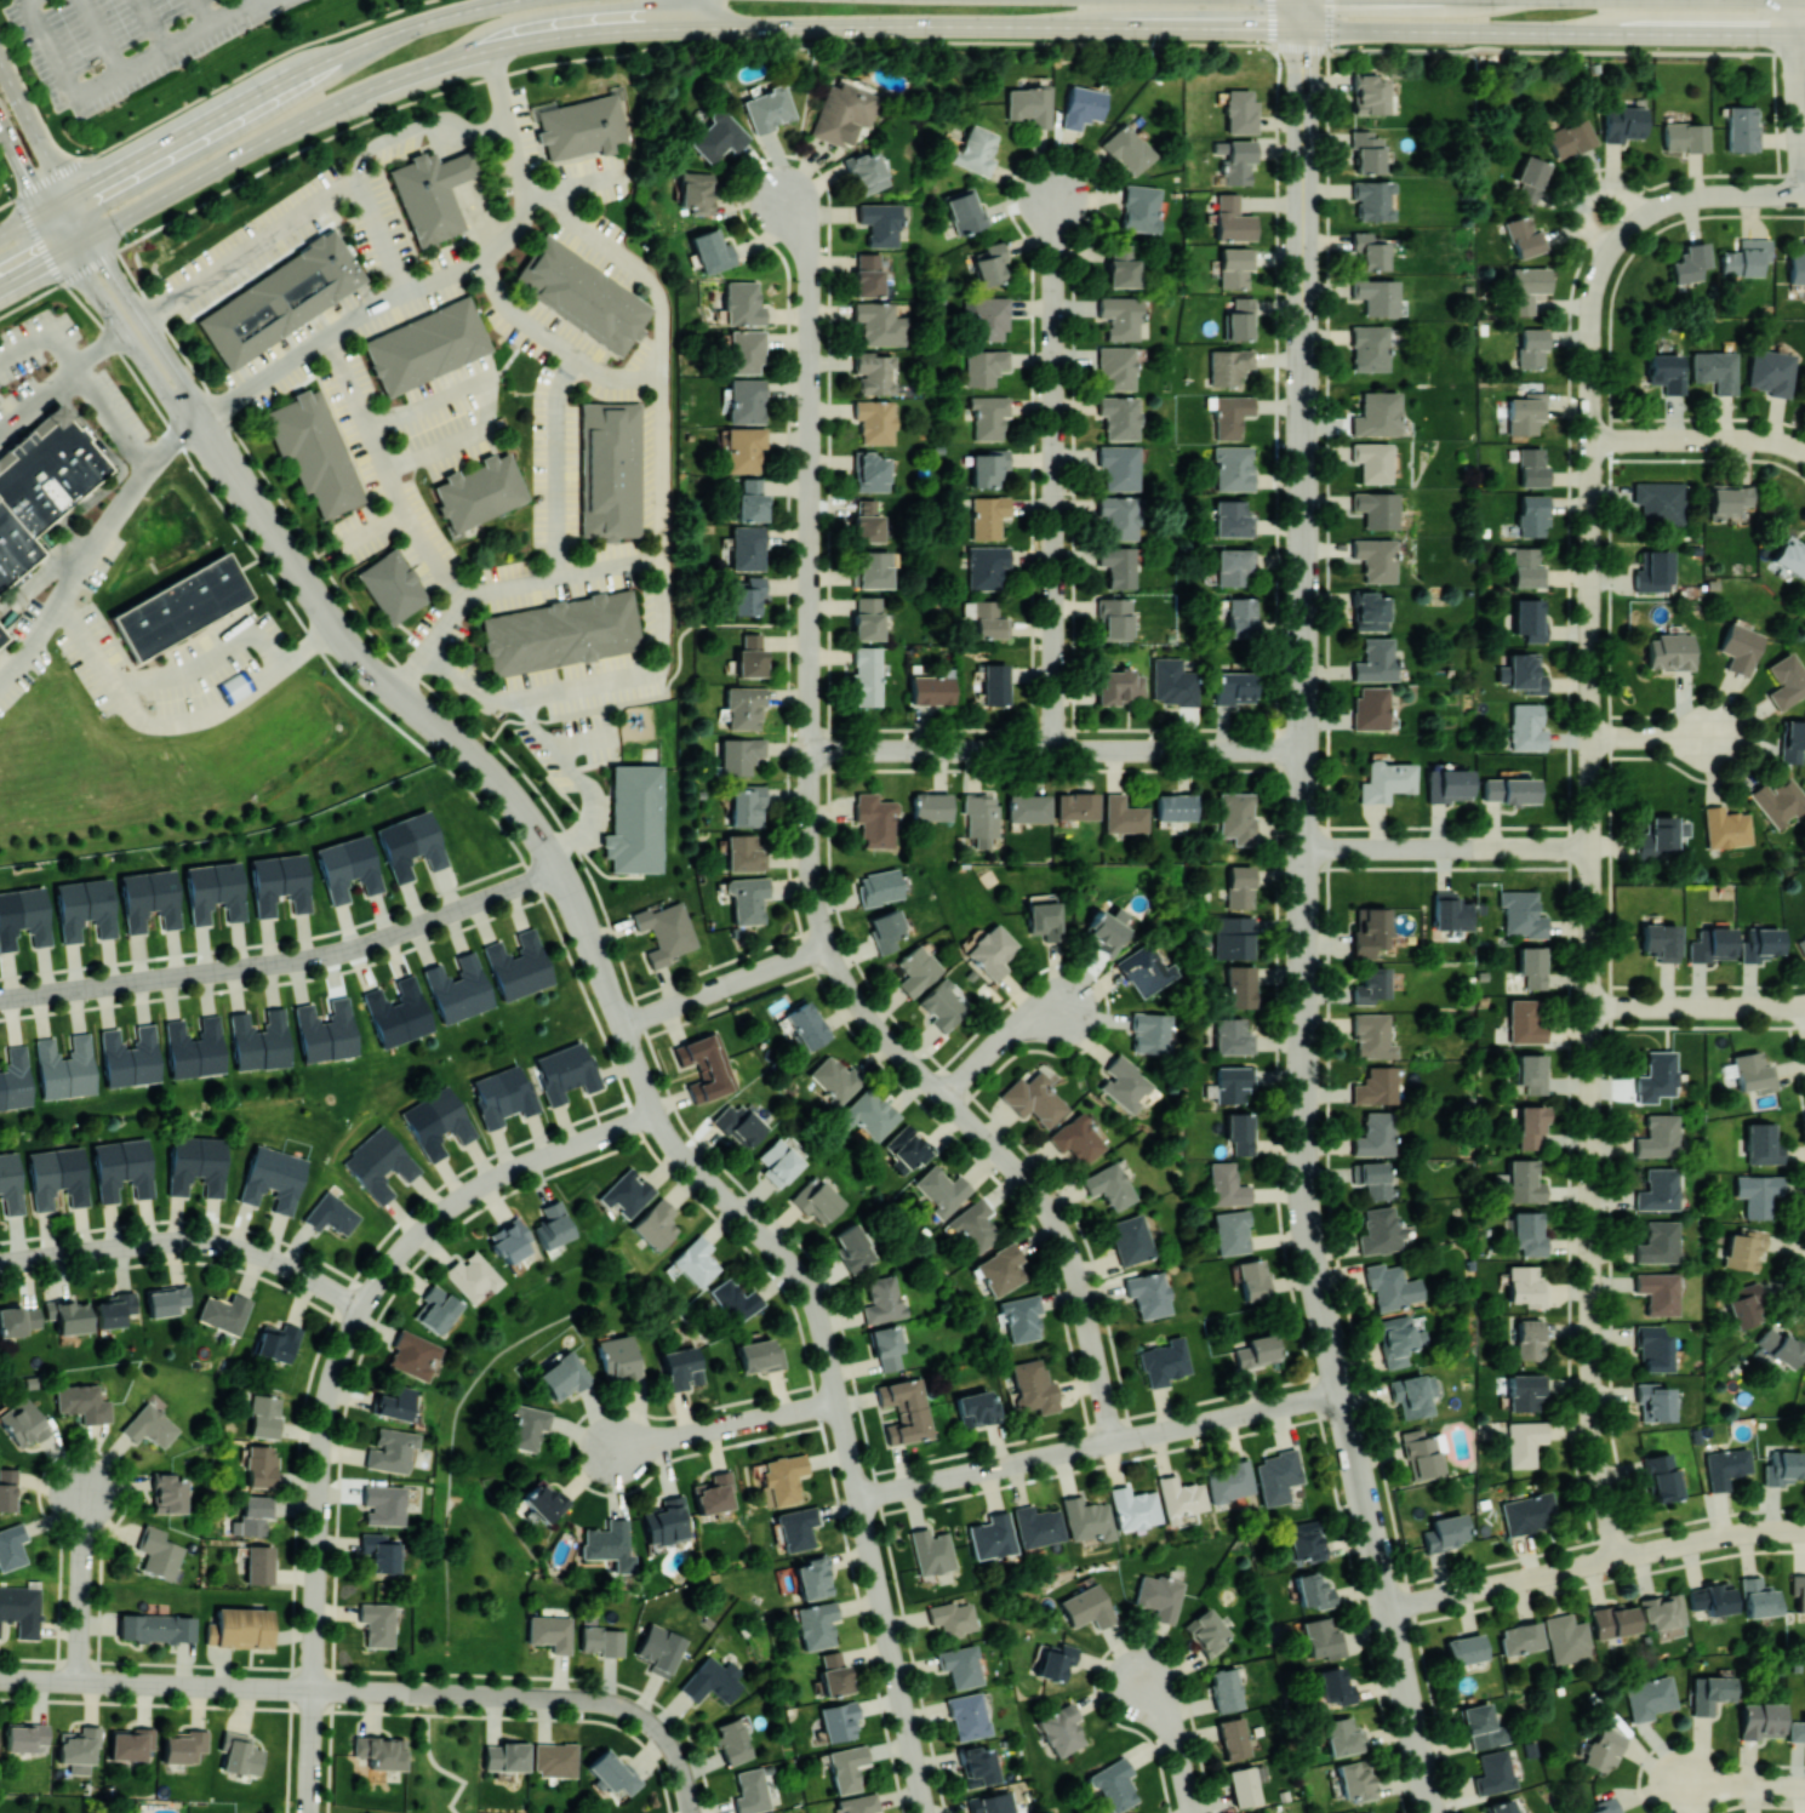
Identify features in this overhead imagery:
road: (206, 12)
road: (703, 12)
road: (675, 13)
road: (1297, 13)
road: (1306, 13)
road: (1270, 23)
road: (155, 24)
road: (1330, 24)
road: (867, 25)
traffic signals: (1302, 27)
road: (1799, 34)
road: (104, 36)
parking lot: (121, 40)
road: (873, 42)
road: (121, 74)
road: (207, 91)
building: (1369, 93)
road: (1794, 98)
road: (246, 99)
building: (1030, 104)
building: (1081, 105)
building: (769, 108)
building: (1239, 111)
building: (842, 113)
building: (1623, 122)
building: (587, 127)
building: (1741, 127)
building: (718, 135)
building: (1569, 136)
building: (1684, 136)
road: (44, 149)
building: (976, 149)
building: (1127, 149)
building: (1366, 150)
building: (1235, 160)
road: (23, 166)
building: (866, 172)
building: (1530, 177)
road: (464, 187)
building: (695, 191)
building: (436, 194)
road: (1588, 194)
road: (1803, 196)
traffic signals: (69, 198)
building: (1372, 199)
building: (1139, 207)
traffic signals: (45, 210)
building: (964, 210)
building: (1233, 218)
building: (879, 223)
traffic signals: (90, 236)
building: (1525, 236)
traffic signals: (67, 248)
road: (251, 250)
building: (1371, 250)
building: (712, 251)
building: (1746, 257)
building: (1690, 262)
building: (990, 264)
building: (1120, 265)
building: (1797, 265)
building: (1235, 267)
building: (868, 274)
building: (1526, 287)
building: (1376, 296)
building: (583, 297)
building: (279, 298)
building: (741, 303)
building: (987, 316)
building: (1119, 316)
road: (114, 319)
building: (1241, 319)
building: (878, 324)
road: (148, 325)
building: (429, 347)
building: (1531, 347)
building: (1370, 348)
building: (746, 351)
road: (297, 355)
road: (505, 361)
building: (1229, 365)
building: (984, 366)
building: (1115, 367)
building: (1715, 370)
building: (873, 372)
building: (1667, 372)
building: (1771, 372)
road: (85, 373)
road: (807, 382)
road: (62, 387)
building: (747, 400)
road: (481, 407)
building: (1525, 412)
building: (1230, 414)
building: (1377, 414)
building: (988, 416)
building: (1119, 416)
building: (874, 421)
road: (1698, 440)
building: (743, 448)
building: (316, 453)
building: (1373, 461)
road: (1592, 461)
road: (556, 465)
building: (1531, 465)
building: (988, 467)
building: (1119, 467)
building: (1234, 467)
building: (869, 471)
building: (612, 473)
road: (1055, 473)
road: (389, 476)
building: (39, 482)
building: (485, 497)
building: (749, 499)
building: (1729, 499)
building: (1660, 502)
building: (1377, 508)
building: (1531, 514)
building: (988, 515)
building: (1118, 516)
building: (1233, 519)
road: (657, 521)
building: (867, 521)
building: (748, 547)
building: (1790, 555)
building: (1375, 557)
building: (1118, 565)
building: (987, 566)
building: (1234, 566)
building: (1526, 567)
building: (873, 568)
building: (1653, 571)
building: (394, 591)
road: (316, 593)
road: (509, 595)
building: (746, 595)
road: (810, 596)
building: (177, 608)
building: (1369, 610)
building: (1243, 617)
building: (867, 618)
building: (987, 618)
building: (1114, 618)
building: (1530, 618)
building: (565, 635)
building: (1, 637)
building: (1740, 647)
building: (1669, 651)
building: (750, 656)
building: (1375, 659)
road: (206, 662)
building: (1523, 673)
building: (866, 675)
building: (1786, 680)
building: (1173, 681)
building: (995, 682)
road: (810, 686)
building: (1119, 686)
building: (1234, 686)
building: (931, 688)
road: (662, 697)
building: (743, 707)
building: (1370, 707)
road: (178, 722)
building: (1526, 726)
road: (1647, 736)
building: (1792, 739)
road: (583, 740)
road: (1057, 750)
building: (739, 754)
road: (579, 778)
building: (1386, 780)
building: (1447, 784)
building: (1508, 789)
road: (811, 790)
road: (1610, 799)
building: (1778, 801)
road: (515, 803)
building: (1078, 805)
building: (747, 806)
building: (930, 806)
building: (1175, 806)
building: (1028, 807)
building: (981, 814)
building: (1124, 814)
building: (635, 818)
building: (1241, 818)
building: (875, 819)
road: (1303, 820)
building: (1725, 827)
building: (1658, 836)
building: (410, 843)
road: (811, 846)
road: (1447, 848)
building: (743, 853)
building: (347, 867)
building: (279, 882)
building: (879, 886)
building: (1240, 887)
building: (213, 891)
road: (570, 892)
building: (149, 898)
building: (747, 898)
building: (84, 908)
building: (1450, 911)
building: (1521, 913)
road: (1592, 913)
building: (23, 916)
building: (1043, 920)
building: (885, 930)
building: (1106, 930)
building: (664, 931)
building: (1369, 932)
building: (1233, 937)
building: (1660, 940)
building: (1759, 943)
building: (1710, 944)
building: (1801, 944)
building: (992, 950)
road: (595, 959)
road: (298, 961)
building: (518, 965)
building: (1532, 966)
road: (773, 967)
building: (916, 970)
building: (1144, 970)
building: (1370, 984)
building: (1240, 985)
building: (458, 988)
road: (11, 997)
building: (943, 1005)
road: (669, 1007)
road: (1698, 1007)
building: (398, 1012)
road: (616, 1014)
building: (1525, 1020)
building: (806, 1024)
building: (325, 1030)
building: (1149, 1031)
building: (1234, 1035)
building: (1371, 1035)
road: (996, 1039)
building: (259, 1040)
building: (195, 1047)
building: (131, 1056)
building: (706, 1065)
building: (65, 1066)
road: (636, 1070)
building: (564, 1071)
building: (1532, 1071)
building: (1753, 1071)
building: (1655, 1076)
building: (15, 1079)
building: (834, 1079)
building: (1124, 1082)
building: (1233, 1082)
building: (1376, 1085)
building: (502, 1094)
building: (1034, 1098)
building: (868, 1114)
building: (436, 1121)
building: (739, 1123)
building: (1531, 1125)
building: (1239, 1132)
building: (1375, 1134)
building: (1657, 1136)
road: (986, 1138)
building: (1076, 1138)
building: (1763, 1142)
building: (906, 1148)
building: (779, 1161)
building: (196, 1163)
building: (379, 1165)
building: (121, 1167)
building: (57, 1176)
building: (273, 1177)
building: (1372, 1178)
building: (1521, 1180)
building: (10, 1183)
road: (489, 1183)
building: (1108, 1184)
building: (1226, 1184)
building: (941, 1189)
building: (1657, 1189)
road: (1593, 1190)
building: (626, 1193)
building: (1758, 1193)
building: (817, 1199)
building: (331, 1213)
building: (552, 1224)
building: (655, 1224)
building: (975, 1225)
building: (1381, 1230)
building: (1232, 1231)
building: (1529, 1231)
building: (1130, 1239)
building: (509, 1240)
building: (1657, 1242)
road: (136, 1246)
building: (853, 1247)
building: (1744, 1248)
building: (696, 1260)
building: (1001, 1269)
building: (472, 1276)
building: (1252, 1279)
road: (316, 1282)
building: (1392, 1286)
building: (1526, 1286)
building: (1657, 1292)
building: (1148, 1293)
building: (166, 1299)
road: (812, 1299)
building: (884, 1299)
building: (735, 1300)
building: (1746, 1305)
building: (115, 1309)
building: (435, 1309)
building: (223, 1311)
building: (68, 1315)
building: (1021, 1316)
building: (18, 1319)
building: (1395, 1339)
building: (1529, 1339)
building: (276, 1342)
building: (886, 1346)
building: (1780, 1346)
building: (1652, 1349)
building: (1255, 1350)
building: (412, 1354)
building: (617, 1355)
building: (759, 1355)
building: (1164, 1361)
building: (680, 1367)
building: (562, 1376)
building: (1034, 1385)
building: (1526, 1390)
building: (1412, 1394)
building: (1652, 1401)
building: (82, 1402)
building: (393, 1402)
building: (976, 1407)
building: (906, 1408)
building: (264, 1415)
building: (22, 1422)
building: (149, 1425)
building: (526, 1426)
road: (724, 1428)
road: (1179, 1428)
road: (322, 1440)
building: (1524, 1441)
road: (1595, 1447)
building: (390, 1449)
building: (1421, 1453)
road: (1009, 1464)
building: (261, 1465)
building: (1725, 1466)
building: (1782, 1466)
building: (1278, 1475)
building: (1661, 1476)
building: (783, 1477)
building: (1229, 1480)
road: (930, 1482)
building: (7, 1488)
building: (168, 1492)
building: (713, 1492)
building: (1179, 1497)
building: (543, 1499)
building: (383, 1504)
building: (1133, 1508)
road: (1607, 1509)
building: (1527, 1512)
building: (251, 1516)
road: (1718, 1516)
building: (1086, 1519)
building: (664, 1521)
building: (1036, 1526)
building: (796, 1527)
building: (1445, 1532)
building: (990, 1535)
building: (1304, 1542)
building: (607, 1544)
building: (12, 1545)
building: (931, 1550)
building: (379, 1551)
building: (159, 1552)
road: (1644, 1552)
road: (1507, 1560)
building: (258, 1563)
road: (875, 1573)
building: (812, 1577)
road: (81, 1583)
road: (316, 1584)
road: (1480, 1589)
building: (1313, 1590)
building: (1798, 1591)
building: (1159, 1596)
building: (1758, 1597)
road: (1430, 1598)
building: (1710, 1598)
building: (1086, 1606)
building: (21, 1608)
building: (1662, 1611)
building: (952, 1617)
building: (1613, 1619)
building: (377, 1623)
building: (815, 1624)
building: (155, 1626)
building: (242, 1628)
building: (550, 1631)
building: (1207, 1631)
building: (1323, 1637)
building: (1520, 1637)
road: (314, 1638)
building: (1566, 1638)
building: (600, 1640)
building: (659, 1648)
building: (1464, 1648)
building: (1055, 1660)
building: (960, 1665)
road: (394, 1671)
building: (833, 1672)
building: (713, 1680)
road: (96, 1682)
building: (1335, 1685)
road: (252, 1687)
building: (1226, 1688)
road: (360, 1691)
building: (1710, 1692)
road: (445, 1694)
road: (504, 1697)
building: (1649, 1697)
road: (570, 1699)
road: (362, 1710)
road: (903, 1710)
road: (1409, 1710)
building: (967, 1715)
building: (1760, 1720)
building: (839, 1721)
building: (1481, 1726)
building: (1061, 1728)
building: (1797, 1729)
building: (1342, 1735)
building: (25, 1737)
building: (1233, 1737)
building: (732, 1740)
building: (130, 1741)
road: (1176, 1741)
road: (670, 1744)
building: (183, 1745)
building: (78, 1748)
building: (1601, 1748)
road: (310, 1751)
building: (379, 1751)
building: (239, 1754)
building: (504, 1755)
building: (555, 1758)
park: (441, 1760)
building: (976, 1766)
building: (846, 1767)
road: (442, 1768)
building: (612, 1771)
building: (1493, 1772)
building: (1355, 1779)
road: (1742, 1784)
building: (1114, 1785)
building: (1244, 1785)
building: (750, 1790)
building: (992, 1802)
building: (858, 1803)
building: (1501, 1807)
building: (1603, 1807)
building: (1262, 1812)

